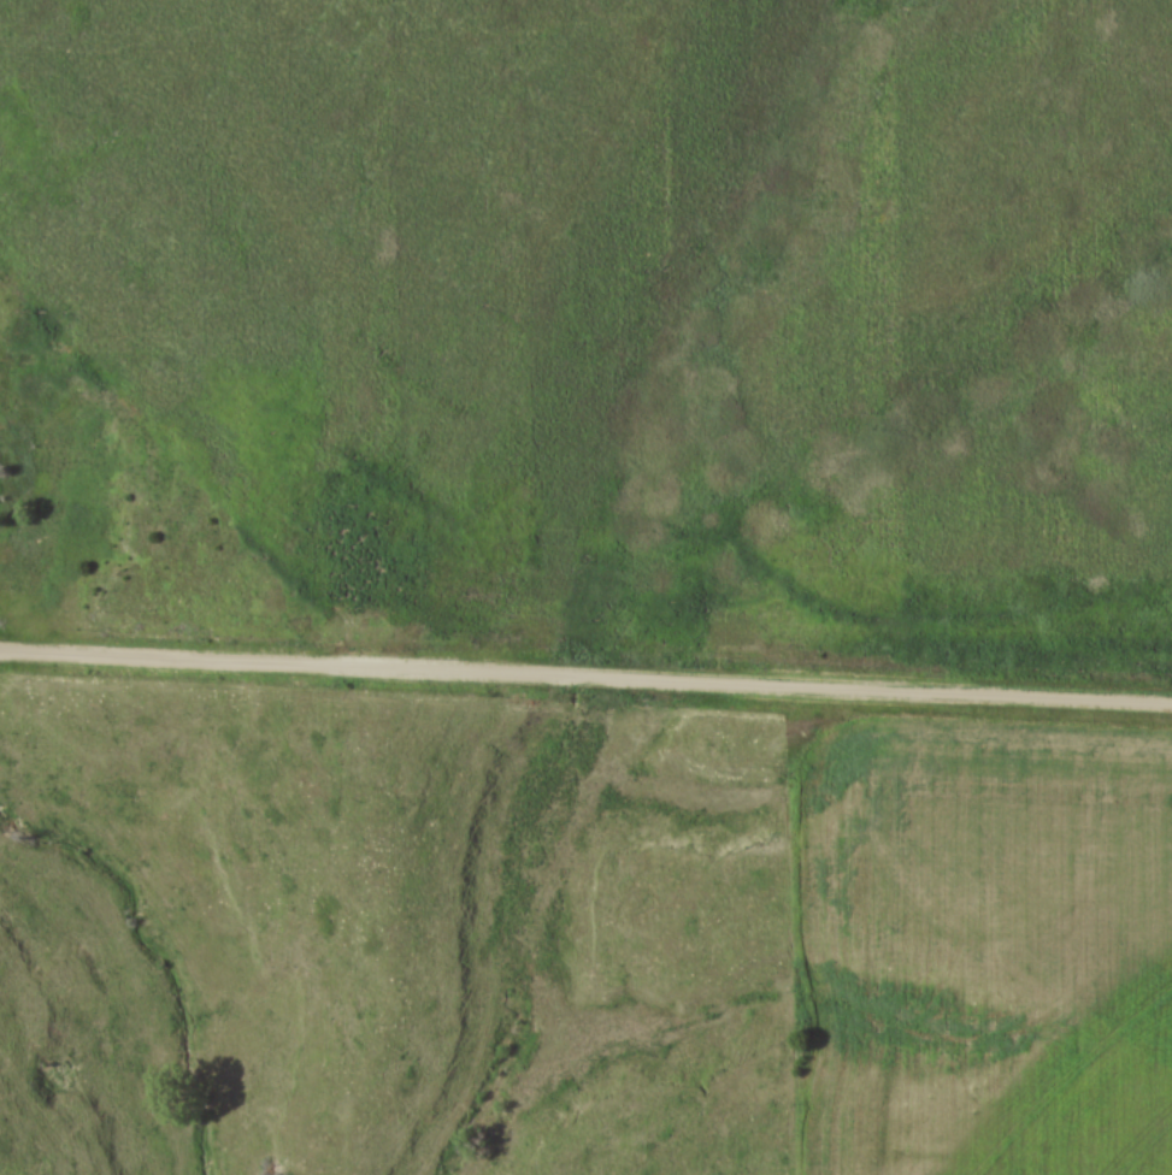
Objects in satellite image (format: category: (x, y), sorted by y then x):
road: (585, 674)

